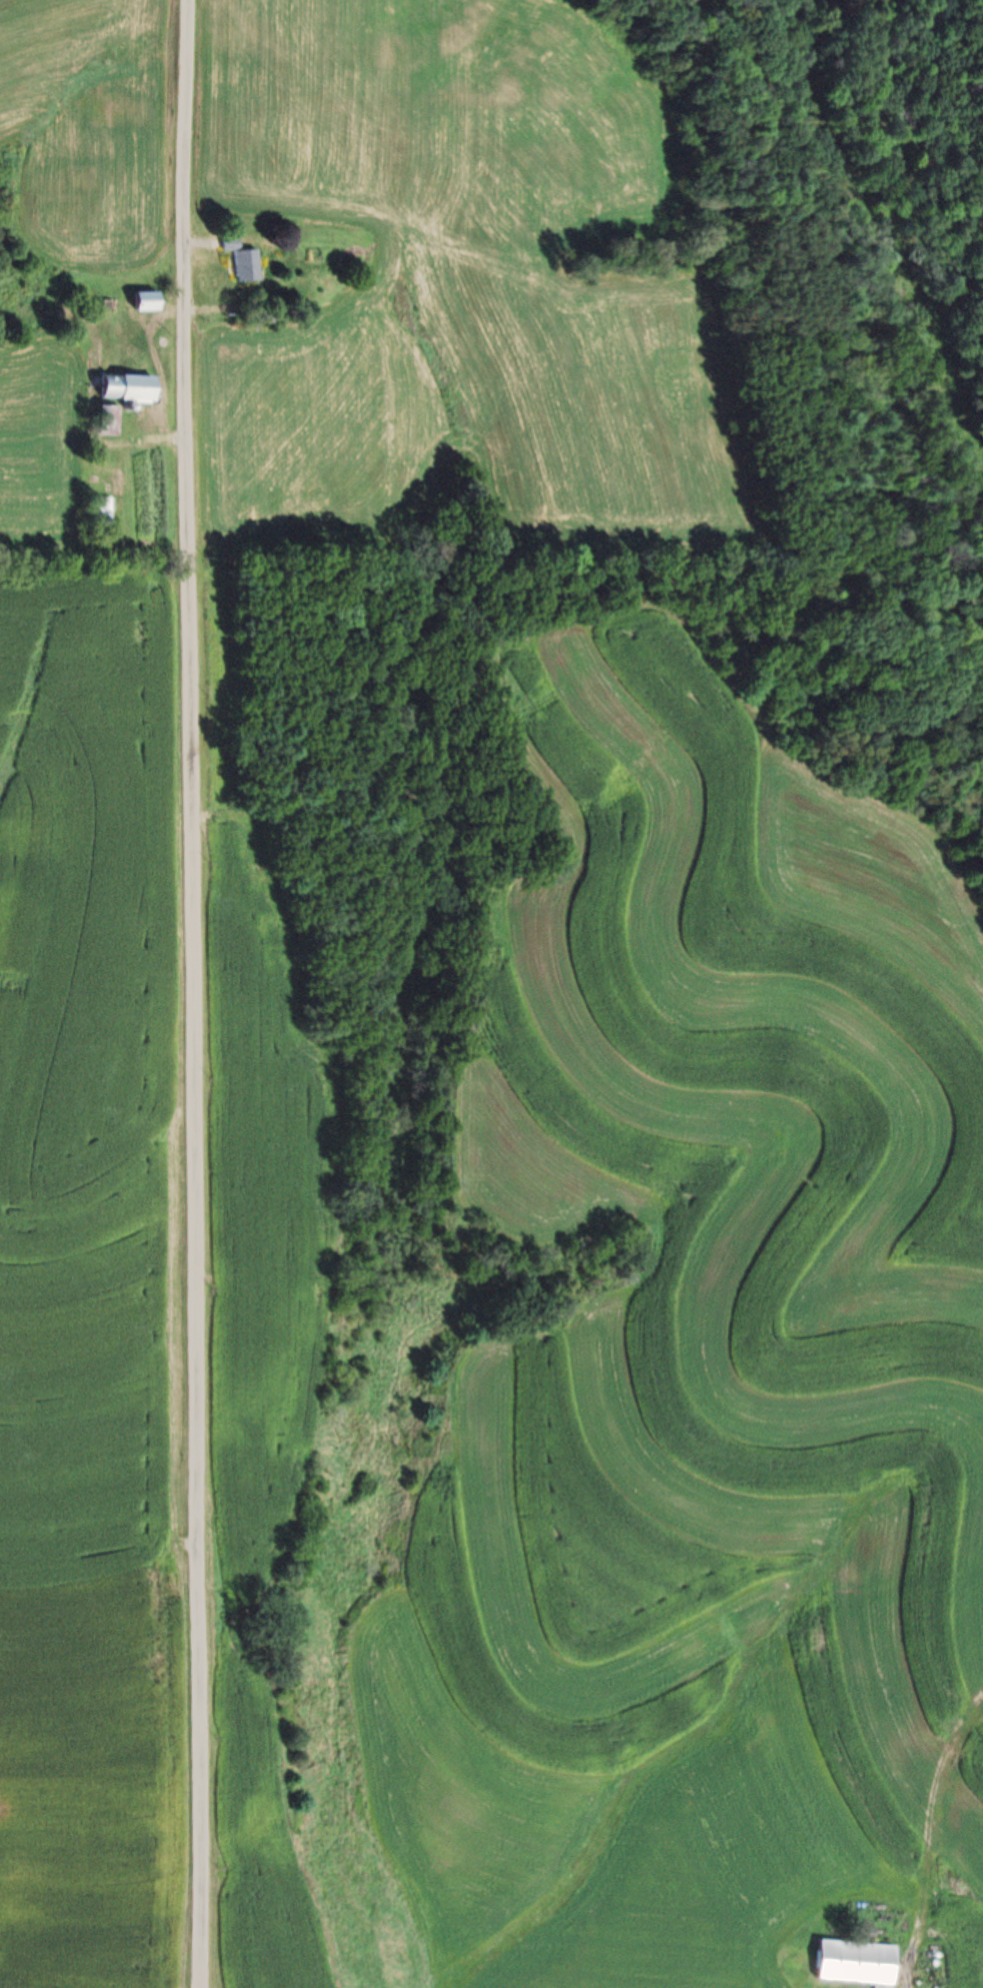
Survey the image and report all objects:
building: (243, 263)
building: (142, 300)
building: (119, 387)
building: (103, 420)
building: (98, 512)
road: (193, 993)
building: (850, 1963)

